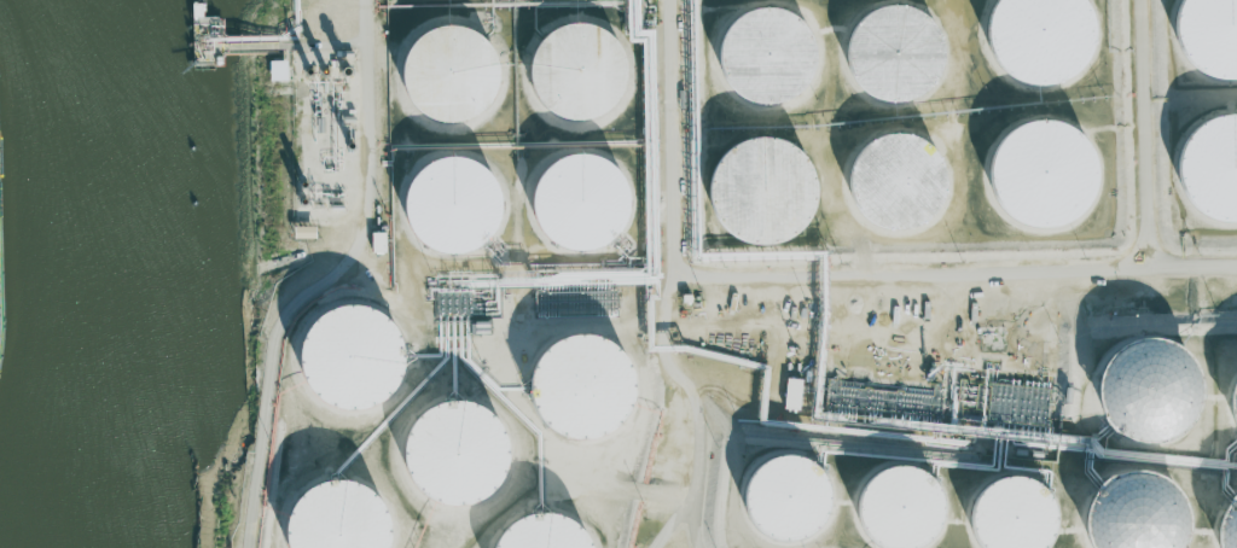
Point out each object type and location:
building: (1206, 36)
building: (1030, 39)
building: (881, 53)
building: (759, 56)
building: (582, 70)
building: (455, 74)
road: (377, 155)
building: (1207, 168)
building: (1034, 174)
building: (888, 182)
building: (755, 192)
building: (571, 203)
building: (445, 205)
building: (298, 232)
building: (374, 243)
road: (660, 286)
building: (343, 357)
building: (573, 387)
building: (1139, 390)
building: (789, 393)
building: (1063, 441)
building: (447, 455)
building: (779, 500)
building: (893, 508)
building: (1125, 512)
building: (1005, 514)
building: (327, 518)
building: (1224, 520)
building: (530, 534)

